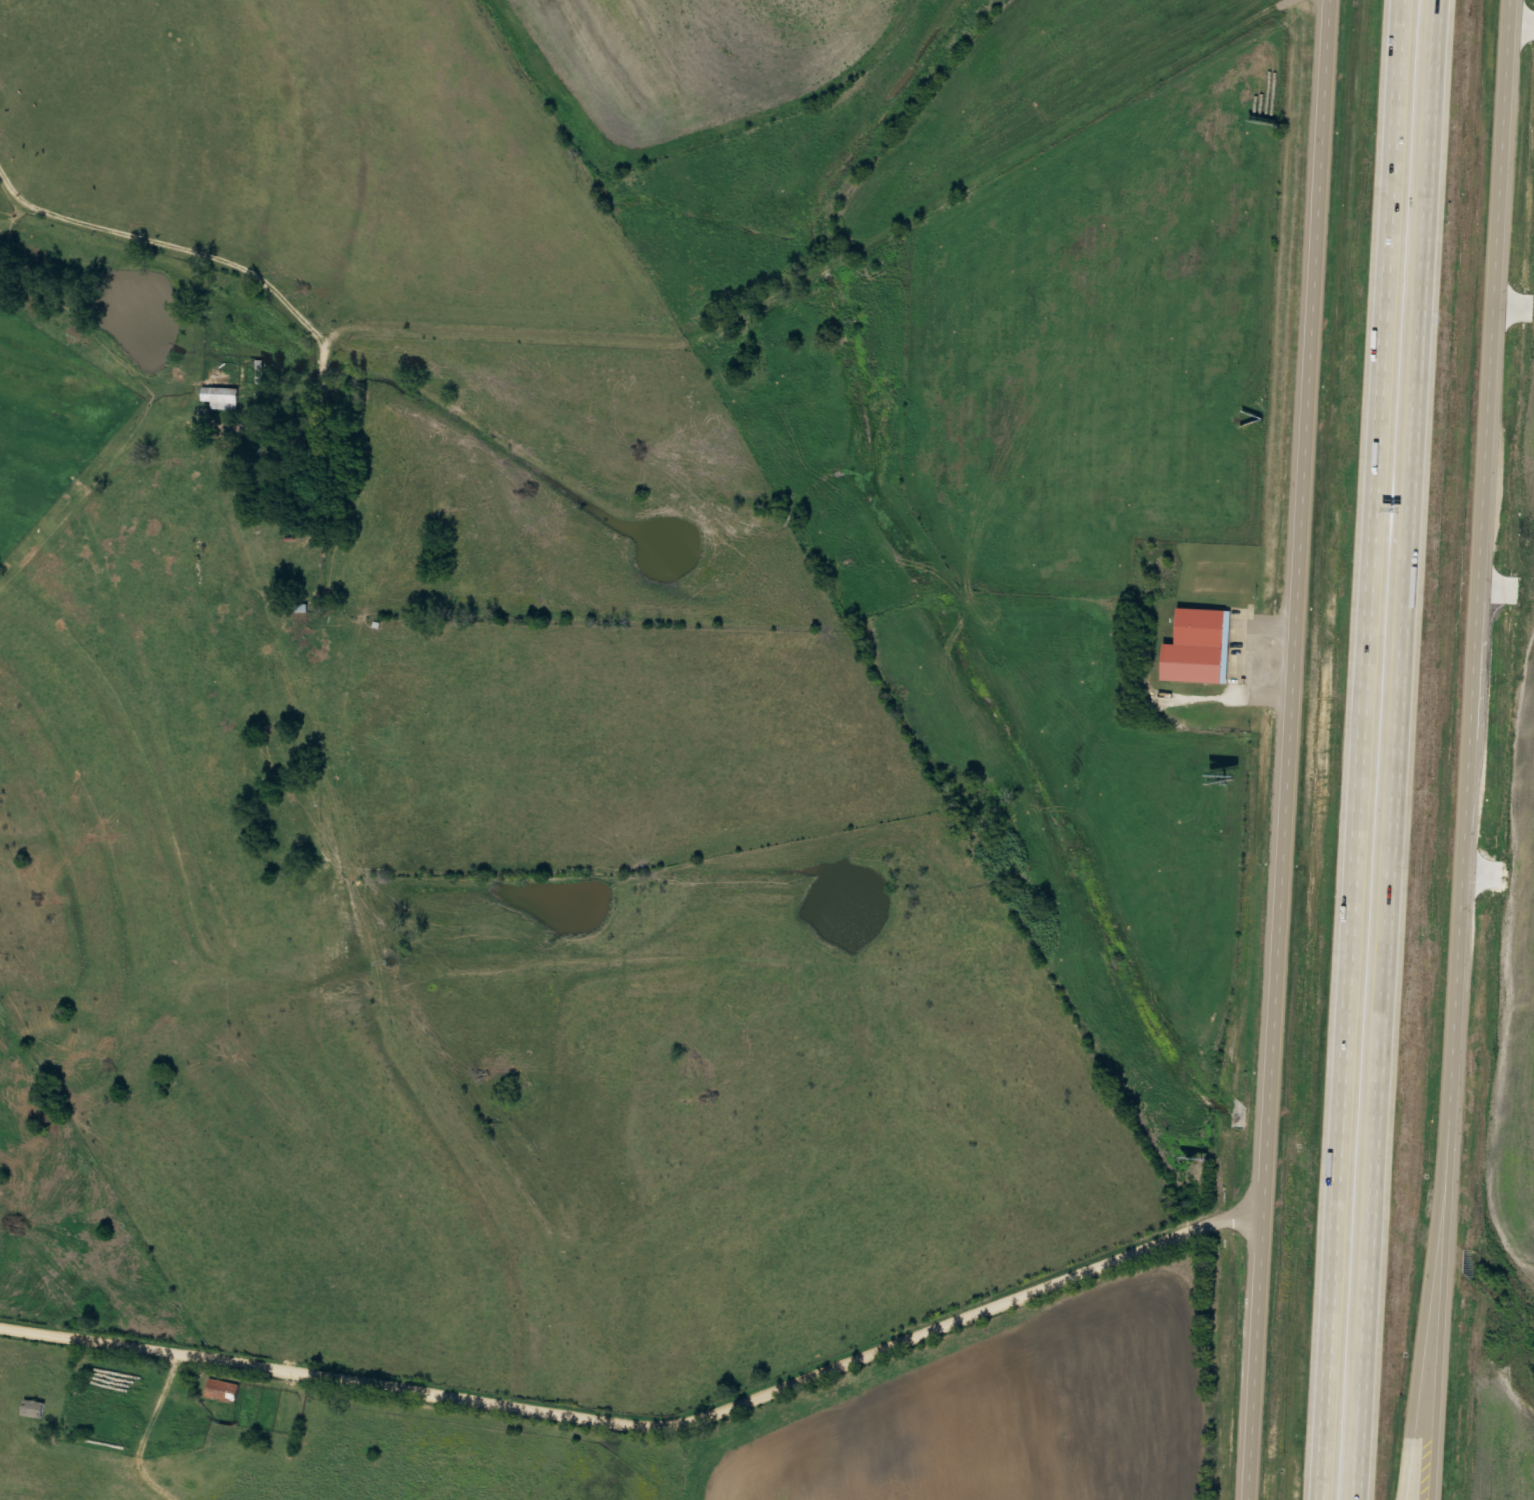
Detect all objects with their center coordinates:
road: (430, 91)
building: (221, 397)
building: (296, 478)
road: (1272, 621)
building: (1196, 646)
road: (1362, 749)
road: (1291, 750)
road: (1398, 750)
road: (1471, 750)
road: (1433, 1265)
building: (223, 1391)
building: (34, 1408)
road: (649, 1427)

